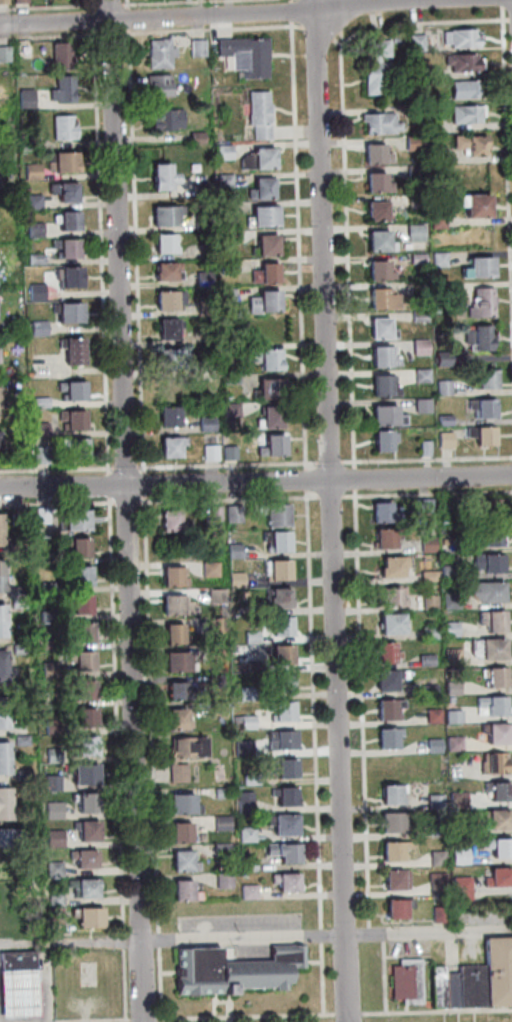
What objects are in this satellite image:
road: (288, 0)
building: (19, 1)
building: (2, 2)
road: (172, 2)
road: (499, 2)
road: (90, 5)
road: (107, 5)
road: (125, 5)
road: (47, 7)
road: (288, 11)
road: (337, 14)
road: (204, 16)
road: (126, 19)
road: (509, 19)
road: (91, 20)
road: (210, 29)
road: (315, 31)
road: (109, 34)
road: (49, 36)
road: (339, 36)
building: (458, 38)
road: (335, 42)
building: (415, 43)
building: (22, 48)
building: (196, 48)
building: (379, 48)
building: (4, 54)
building: (158, 54)
building: (243, 56)
building: (58, 57)
building: (460, 62)
building: (416, 69)
building: (374, 78)
building: (157, 85)
building: (463, 89)
building: (61, 90)
building: (24, 98)
building: (415, 99)
building: (410, 112)
building: (256, 114)
building: (465, 114)
building: (165, 119)
building: (378, 123)
building: (429, 126)
building: (61, 128)
building: (194, 138)
building: (411, 143)
building: (469, 145)
building: (222, 152)
building: (373, 155)
building: (435, 155)
building: (261, 159)
building: (60, 163)
building: (412, 170)
building: (29, 171)
road: (342, 171)
building: (160, 178)
building: (223, 180)
building: (375, 183)
building: (198, 189)
building: (259, 189)
building: (62, 192)
road: (505, 199)
building: (32, 201)
building: (414, 201)
building: (474, 206)
building: (223, 209)
building: (374, 211)
building: (262, 217)
building: (162, 218)
building: (436, 221)
building: (66, 222)
building: (199, 223)
building: (32, 230)
building: (413, 232)
building: (224, 238)
building: (376, 242)
building: (161, 245)
road: (296, 245)
building: (264, 246)
building: (64, 249)
road: (99, 251)
road: (133, 251)
building: (416, 258)
building: (34, 259)
building: (437, 259)
building: (225, 267)
building: (476, 268)
building: (376, 271)
building: (162, 273)
building: (263, 275)
building: (66, 278)
building: (202, 279)
building: (452, 287)
building: (424, 291)
building: (35, 292)
building: (224, 296)
building: (380, 300)
building: (163, 302)
building: (262, 303)
building: (481, 303)
building: (202, 307)
building: (66, 312)
building: (418, 316)
building: (37, 328)
building: (378, 329)
building: (165, 330)
building: (477, 338)
building: (419, 347)
building: (70, 350)
building: (262, 357)
building: (0, 358)
building: (380, 358)
building: (441, 359)
building: (171, 360)
building: (38, 370)
building: (420, 375)
building: (229, 379)
building: (484, 380)
building: (381, 387)
building: (268, 388)
building: (441, 388)
building: (72, 391)
building: (0, 403)
building: (39, 403)
building: (420, 406)
building: (481, 408)
building: (230, 410)
building: (271, 417)
building: (385, 417)
building: (167, 418)
building: (71, 420)
building: (442, 420)
building: (205, 424)
building: (39, 429)
building: (480, 435)
building: (443, 440)
building: (380, 441)
building: (0, 447)
building: (271, 447)
building: (168, 448)
building: (423, 448)
building: (74, 449)
building: (228, 452)
building: (209, 453)
building: (40, 456)
road: (424, 459)
road: (326, 462)
road: (224, 464)
road: (122, 467)
road: (56, 469)
road: (352, 478)
road: (303, 480)
road: (255, 482)
road: (105, 484)
road: (141, 484)
road: (425, 493)
road: (327, 496)
road: (226, 499)
road: (124, 502)
road: (56, 503)
building: (421, 505)
building: (446, 505)
building: (488, 505)
road: (125, 511)
road: (329, 511)
building: (380, 511)
building: (213, 513)
building: (232, 514)
building: (273, 515)
building: (41, 516)
building: (14, 518)
building: (74, 521)
building: (168, 521)
building: (1, 529)
building: (487, 534)
building: (385, 536)
building: (442, 541)
building: (277, 542)
building: (425, 544)
building: (13, 546)
building: (77, 548)
building: (233, 551)
building: (442, 557)
building: (486, 560)
building: (390, 564)
building: (0, 569)
building: (208, 569)
building: (277, 570)
building: (446, 572)
building: (426, 575)
building: (79, 576)
building: (171, 578)
building: (234, 579)
building: (0, 585)
building: (45, 587)
building: (485, 590)
building: (13, 591)
building: (214, 595)
building: (392, 596)
building: (278, 598)
building: (448, 599)
building: (427, 601)
building: (16, 603)
building: (80, 605)
building: (174, 606)
building: (249, 609)
building: (1, 614)
building: (44, 616)
building: (491, 620)
building: (390, 622)
building: (214, 625)
building: (279, 626)
building: (448, 628)
building: (1, 630)
building: (427, 631)
building: (81, 634)
building: (172, 635)
building: (250, 637)
building: (491, 646)
building: (18, 649)
building: (213, 650)
building: (382, 651)
building: (450, 654)
building: (280, 656)
building: (423, 659)
building: (1, 660)
building: (78, 660)
building: (175, 663)
building: (252, 665)
building: (48, 669)
building: (2, 676)
building: (493, 676)
building: (385, 679)
building: (213, 681)
building: (280, 684)
building: (450, 687)
building: (82, 690)
building: (174, 691)
road: (310, 693)
building: (243, 694)
building: (447, 699)
building: (488, 705)
building: (2, 706)
building: (384, 709)
building: (216, 710)
road: (358, 712)
building: (281, 713)
building: (431, 715)
building: (451, 716)
building: (83, 718)
building: (175, 720)
building: (3, 722)
building: (245, 722)
building: (50, 727)
building: (495, 732)
building: (386, 736)
building: (19, 740)
building: (279, 740)
building: (452, 743)
building: (431, 744)
building: (85, 747)
building: (188, 747)
building: (241, 747)
building: (3, 751)
building: (52, 755)
road: (115, 758)
road: (150, 758)
building: (495, 762)
building: (3, 766)
building: (279, 768)
building: (177, 773)
building: (22, 774)
building: (82, 774)
building: (248, 780)
building: (50, 782)
building: (496, 789)
building: (280, 792)
building: (219, 793)
building: (390, 794)
building: (4, 797)
building: (455, 799)
building: (432, 801)
building: (84, 802)
building: (243, 803)
building: (179, 804)
building: (52, 810)
building: (4, 813)
building: (496, 817)
building: (455, 821)
building: (390, 822)
building: (220, 823)
building: (281, 825)
building: (433, 827)
building: (84, 831)
building: (178, 833)
building: (244, 834)
building: (52, 837)
building: (7, 838)
building: (498, 846)
building: (392, 850)
building: (220, 851)
building: (282, 852)
building: (457, 855)
building: (435, 857)
building: (82, 859)
building: (179, 861)
building: (245, 866)
building: (53, 868)
building: (496, 875)
building: (394, 879)
building: (221, 881)
building: (283, 882)
building: (435, 882)
building: (7, 889)
building: (181, 889)
building: (462, 889)
building: (85, 890)
building: (246, 890)
road: (359, 894)
road: (327, 895)
building: (53, 897)
road: (130, 900)
building: (402, 908)
building: (445, 914)
building: (61, 915)
building: (94, 916)
building: (11, 921)
road: (328, 934)
road: (72, 944)
road: (325, 955)
building: (21, 960)
building: (237, 971)
building: (501, 971)
road: (388, 973)
road: (46, 975)
road: (2, 978)
building: (412, 980)
building: (477, 986)
building: (442, 988)
building: (22, 991)
building: (457, 991)
road: (9, 994)
road: (23, 996)
road: (2, 997)
road: (47, 1006)
road: (437, 1012)
road: (351, 1014)
road: (249, 1017)
road: (11, 1018)
road: (147, 1019)
road: (85, 1021)

